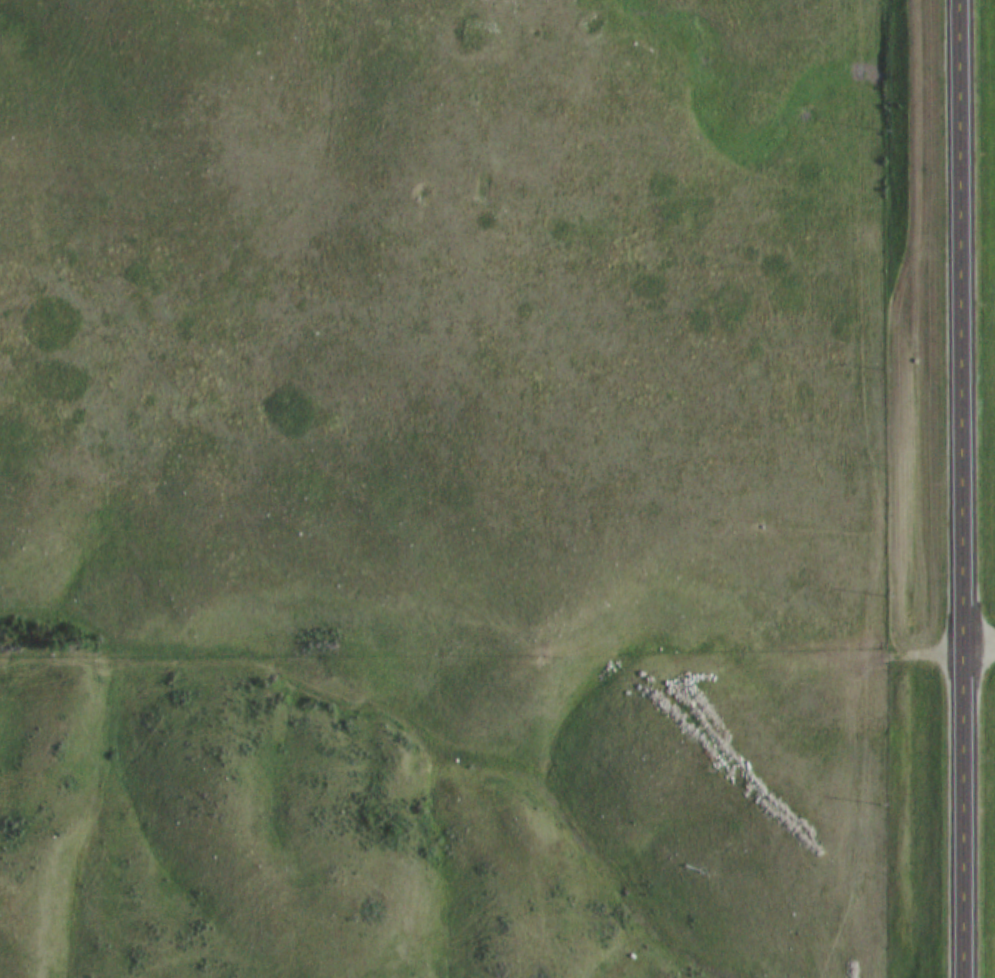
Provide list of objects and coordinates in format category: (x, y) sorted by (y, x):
road: (962, 488)
road: (979, 654)

